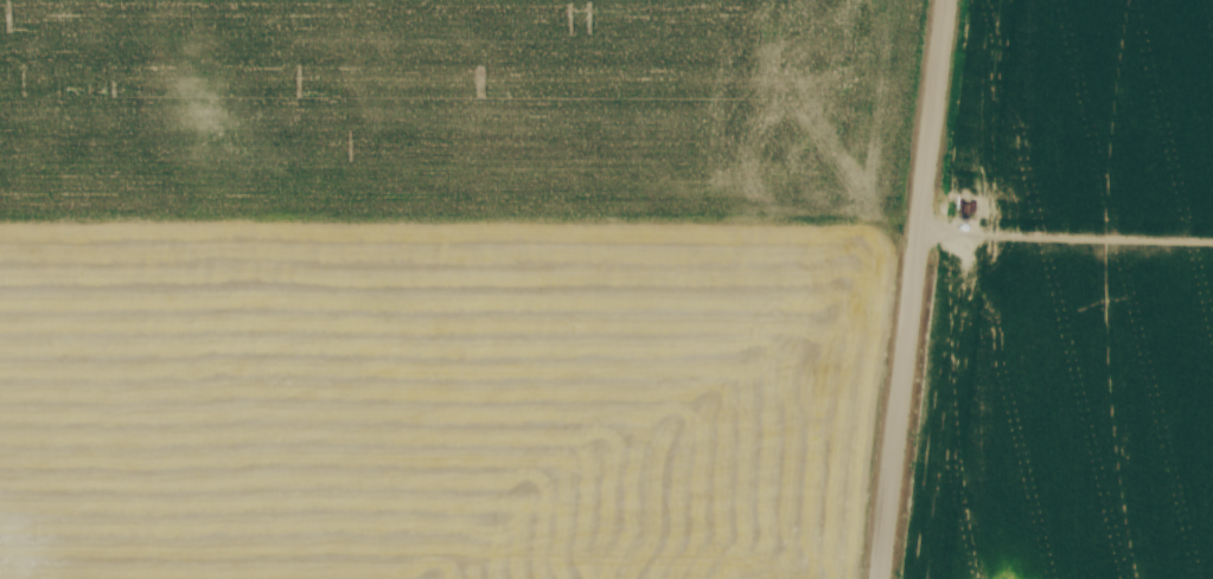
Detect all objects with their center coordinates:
crop: (442, 285)
road: (912, 289)
crop: (1072, 301)

